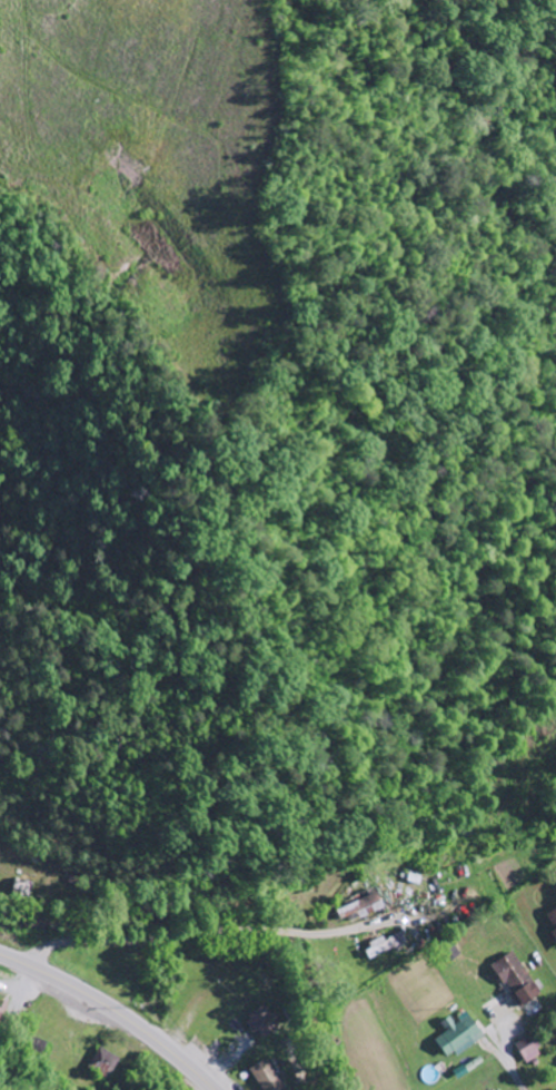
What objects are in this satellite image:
building: (552, 929)
road: (245, 931)
building: (387, 947)
building: (514, 980)
building: (0, 1012)
road: (113, 1012)
building: (266, 1024)
road: (298, 1032)
building: (454, 1035)
building: (526, 1054)
building: (105, 1064)
building: (269, 1077)

